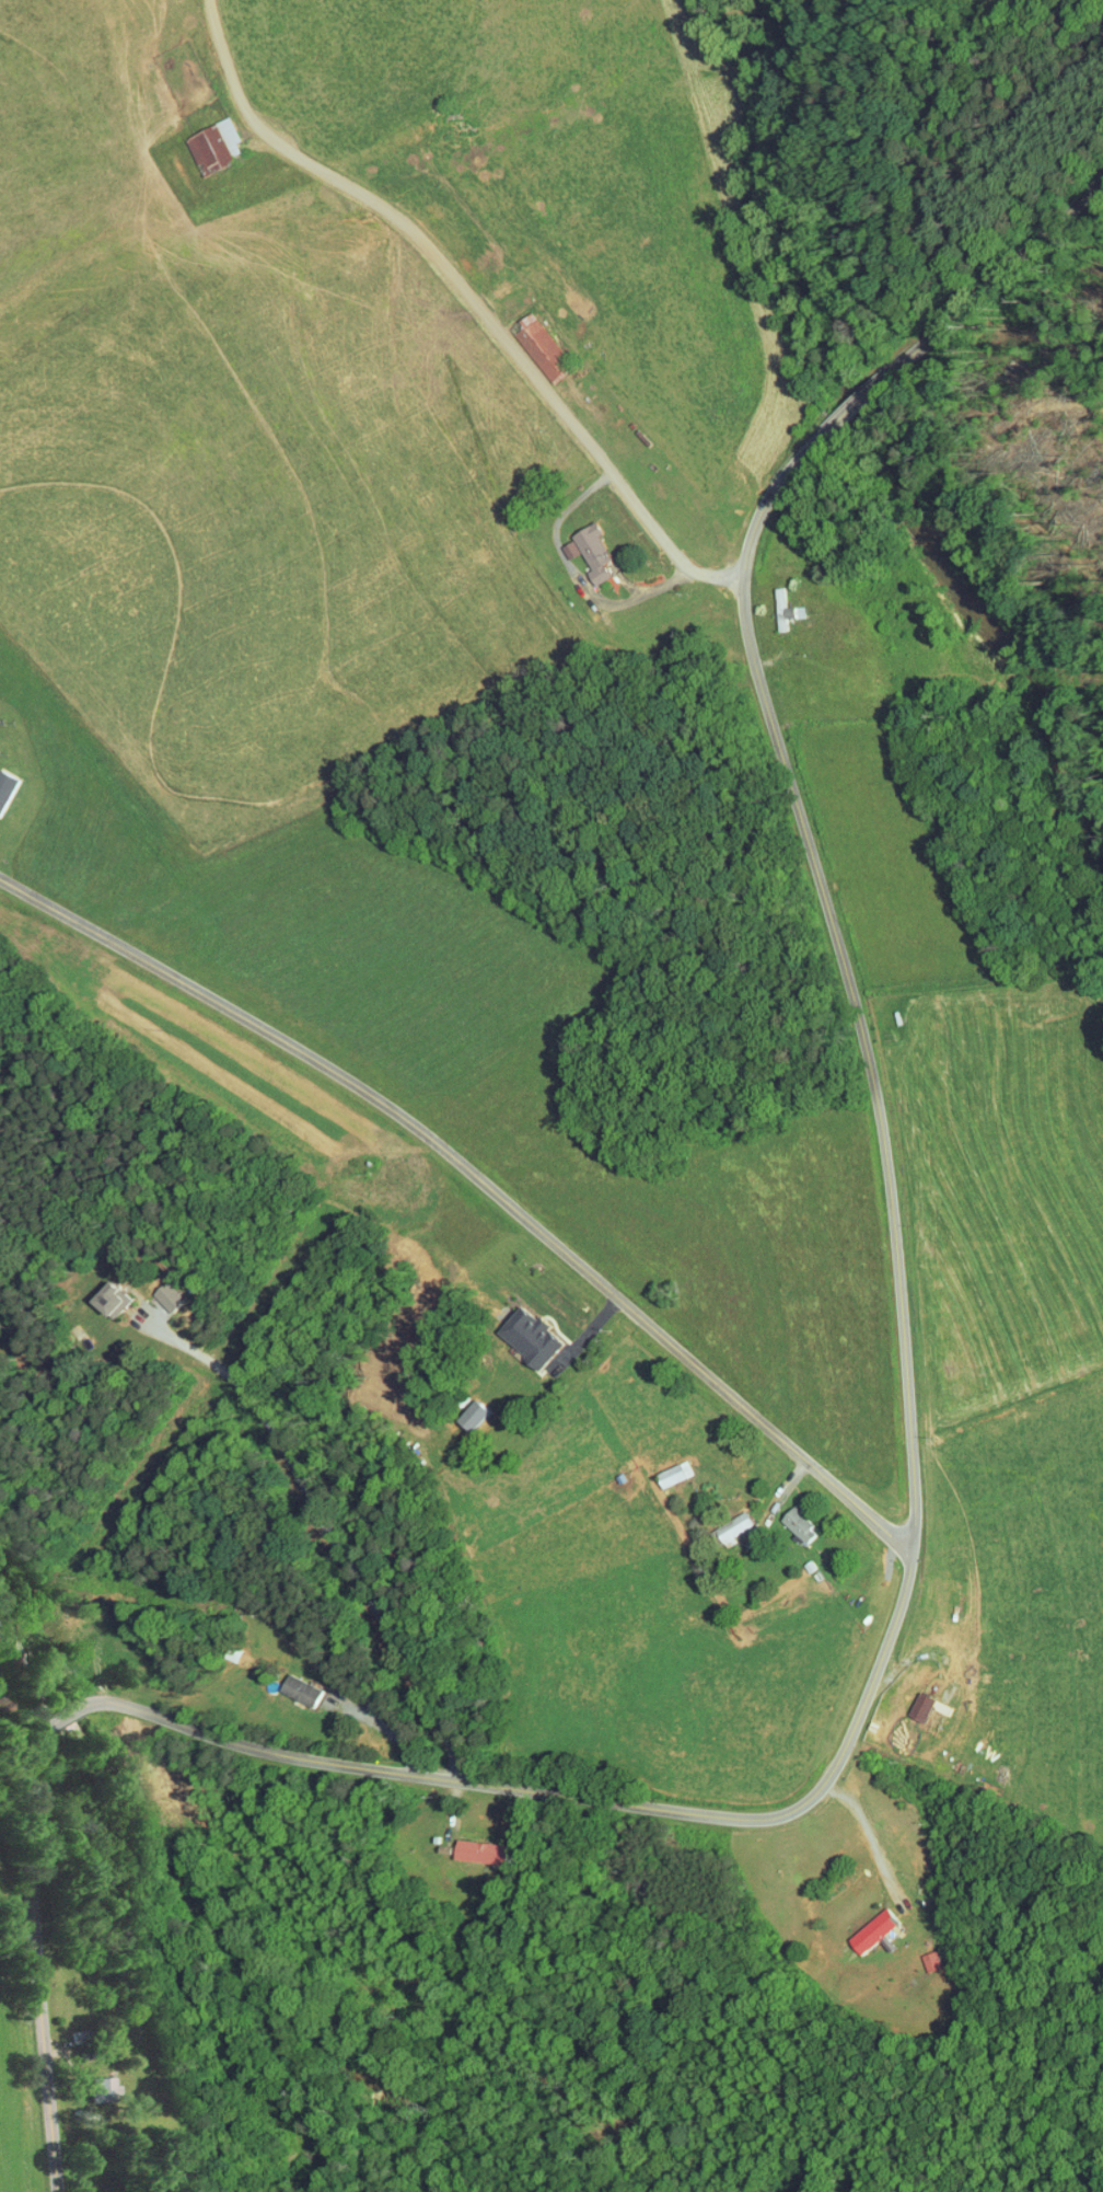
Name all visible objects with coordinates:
building: (200, 138)
road: (464, 288)
building: (527, 342)
road: (891, 366)
building: (578, 545)
road: (577, 576)
building: (771, 603)
building: (1, 772)
road: (480, 1180)
building: (154, 1288)
building: (95, 1292)
building: (514, 1329)
building: (660, 1466)
building: (785, 1518)
building: (719, 1522)
road: (328, 1534)
building: (906, 1699)
road: (808, 1795)
road: (869, 1831)
building: (469, 1845)
building: (858, 1924)
building: (917, 1953)
building: (86, 2080)

